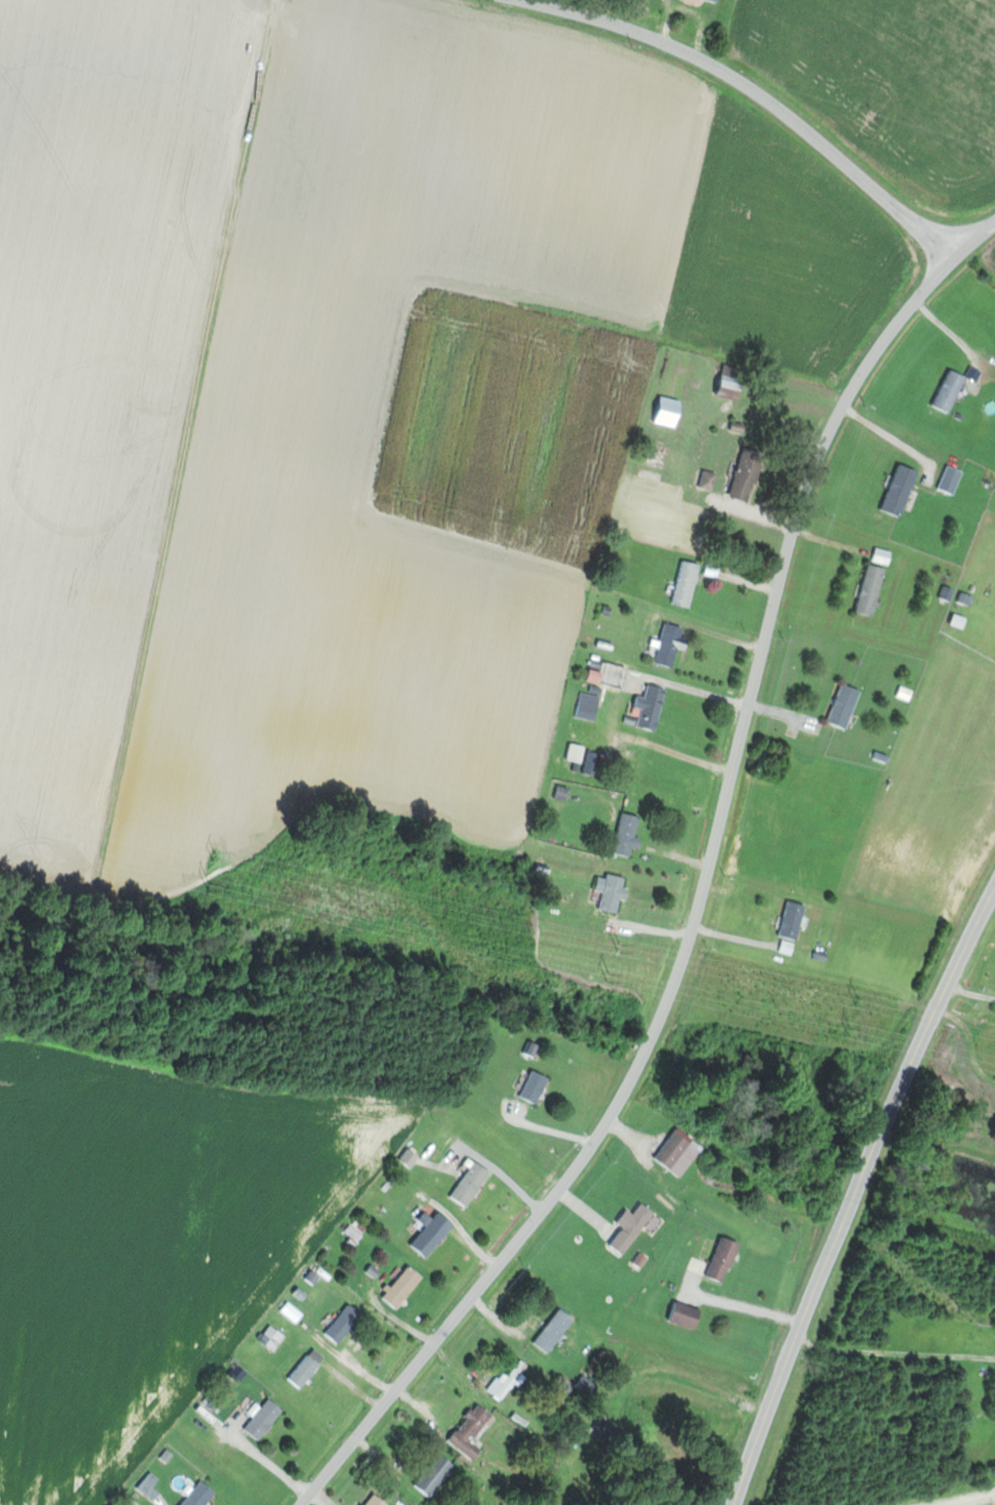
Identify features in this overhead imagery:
building: (717, 0)
road: (752, 92)
building: (733, 381)
building: (670, 411)
building: (748, 475)
building: (709, 480)
building: (901, 490)
building: (687, 583)
building: (872, 589)
building: (670, 644)
building: (613, 675)
building: (589, 705)
building: (845, 705)
building: (652, 707)
building: (638, 763)
building: (628, 834)
power tower: (215, 855)
power tower: (210, 886)
road: (705, 890)
building: (614, 891)
building: (794, 920)
power tower: (621, 947)
power tower: (611, 977)
power tower: (858, 1001)
power tower: (852, 1032)
building: (531, 1049)
building: (535, 1087)
building: (679, 1152)
building: (471, 1184)
road: (855, 1194)
building: (632, 1228)
building: (425, 1231)
building: (724, 1259)
building: (405, 1287)
road: (735, 1306)
building: (687, 1315)
building: (345, 1324)
building: (556, 1331)
building: (273, 1338)
road: (895, 1352)
building: (308, 1367)
road: (629, 1380)
building: (510, 1381)
building: (588, 1385)
building: (266, 1419)
building: (473, 1431)
building: (437, 1474)
road: (404, 1476)
building: (487, 1492)
building: (202, 1496)
building: (379, 1501)

